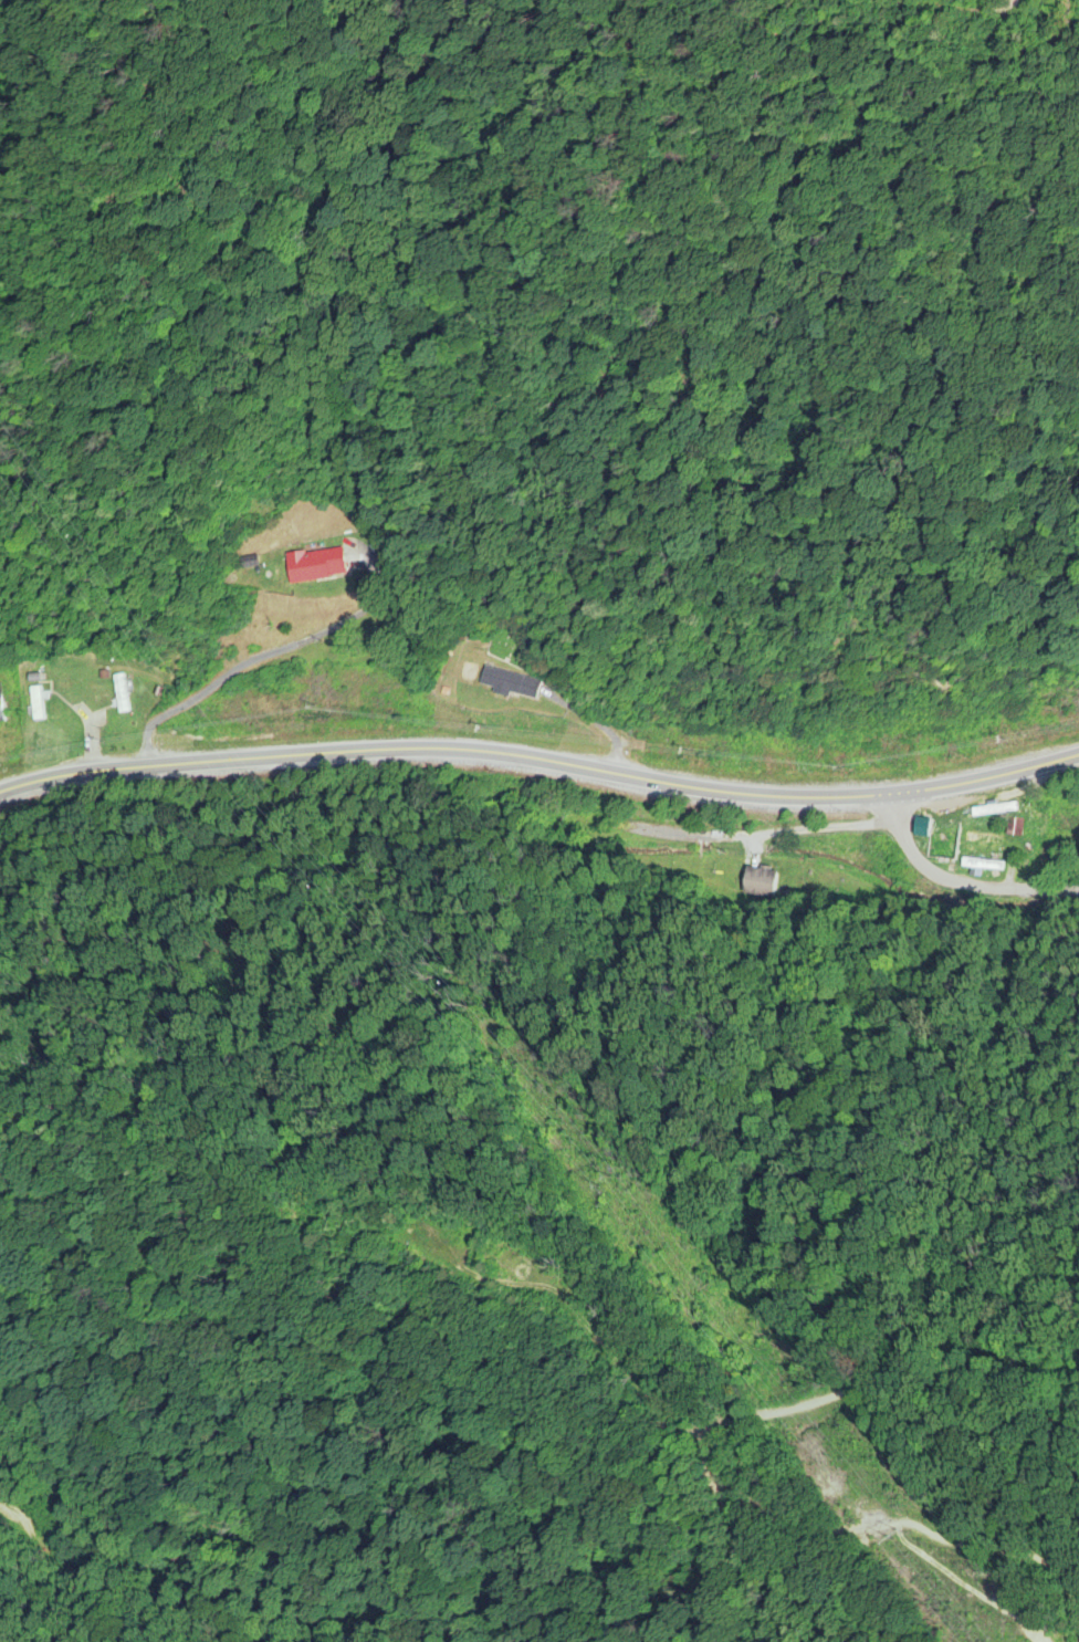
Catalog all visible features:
building: (313, 565)
road: (261, 656)
building: (509, 684)
building: (121, 694)
building: (35, 703)
building: (0, 710)
road: (541, 764)
road: (772, 836)
road: (958, 879)
building: (761, 882)

